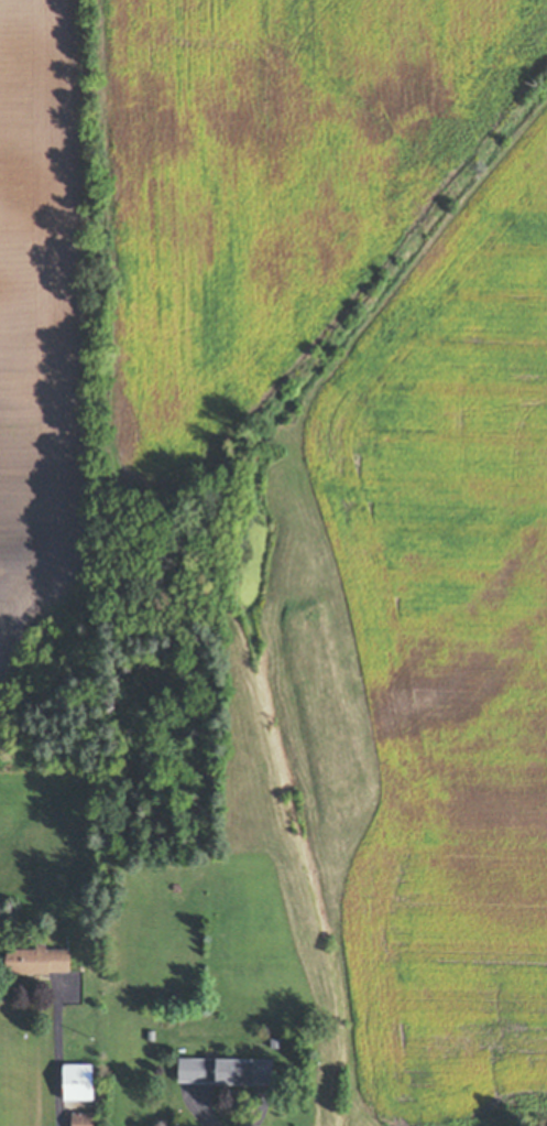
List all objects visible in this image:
building: (39, 959)
building: (152, 1033)
building: (277, 1042)
road: (58, 1058)
building: (226, 1069)
building: (78, 1081)
road: (206, 1112)
building: (84, 1118)

